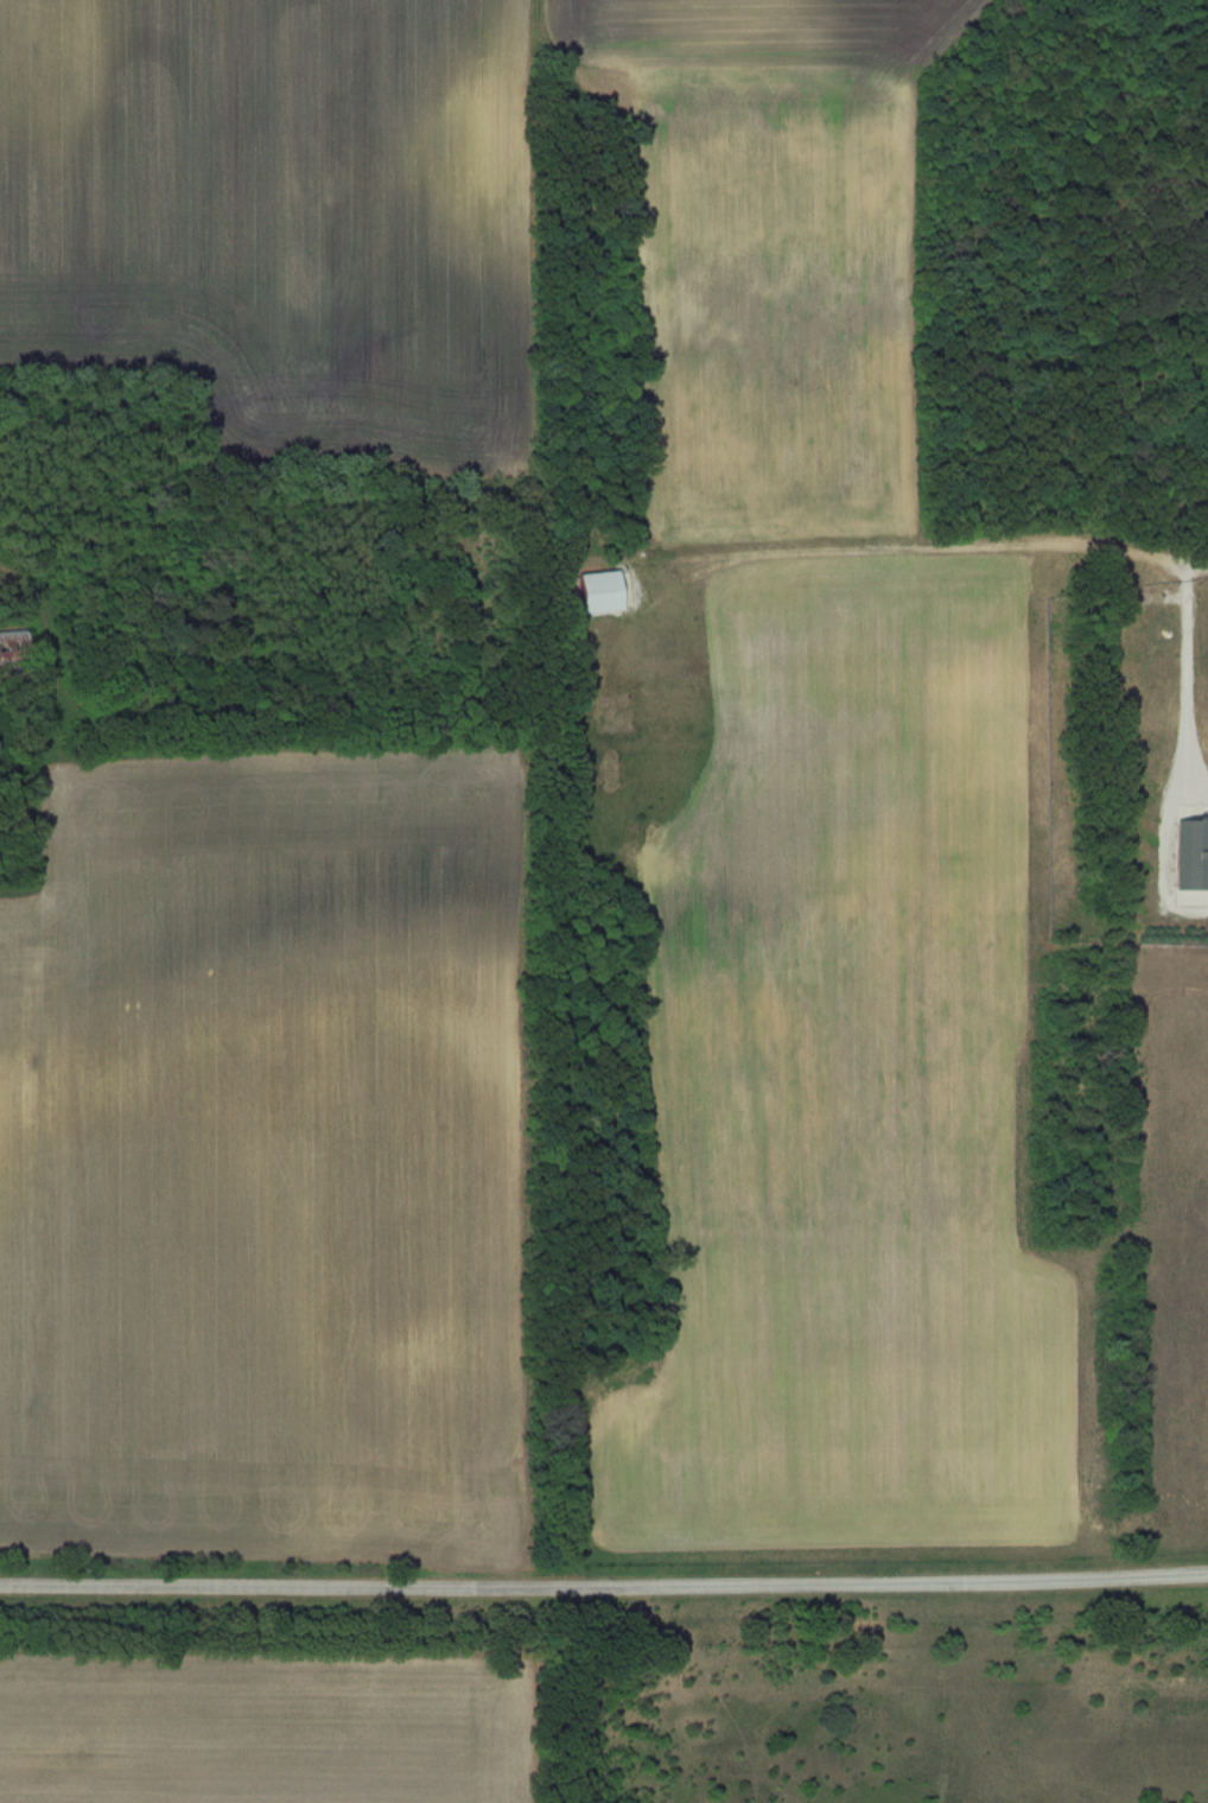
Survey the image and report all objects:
building: (602, 592)
building: (1195, 856)
road: (604, 1583)

